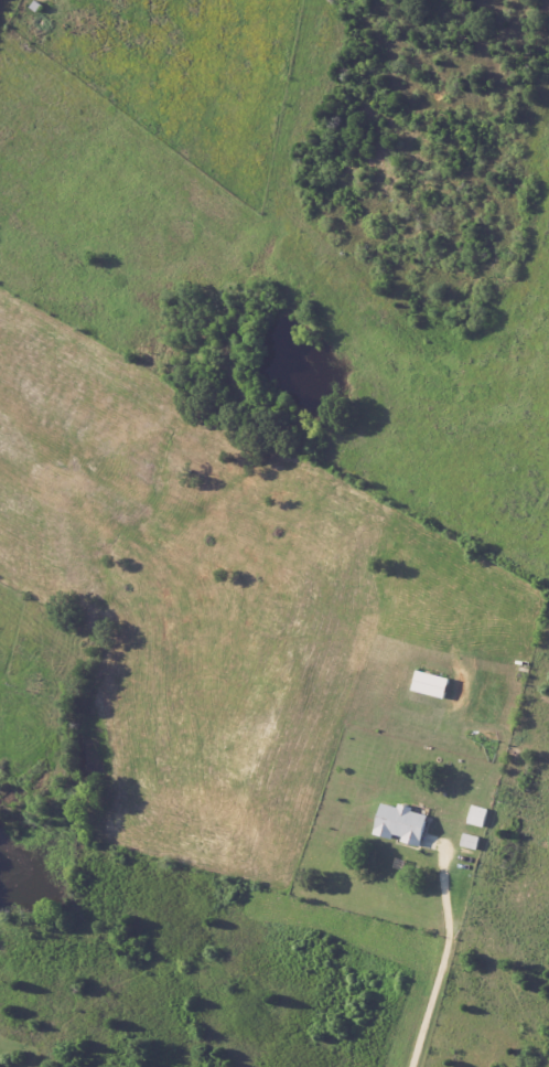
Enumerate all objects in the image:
building: (434, 684)
building: (480, 817)
building: (405, 824)
road: (440, 967)

